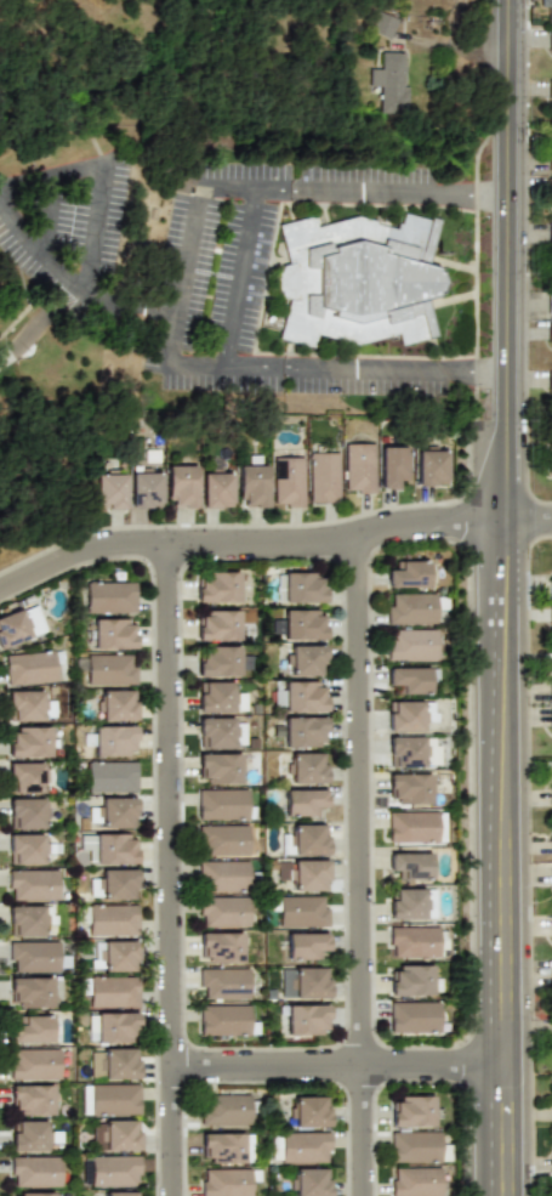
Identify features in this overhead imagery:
building: (545, 4)
road: (454, 19)
building: (380, 23)
building: (550, 40)
road: (459, 41)
building: (389, 79)
building: (550, 91)
building: (550, 159)
road: (51, 172)
road: (245, 181)
building: (548, 183)
road: (364, 186)
road: (453, 189)
road: (490, 193)
road: (51, 216)
road: (96, 226)
building: (550, 233)
road: (513, 263)
road: (181, 270)
road: (241, 276)
building: (357, 279)
road: (70, 282)
building: (548, 305)
building: (548, 330)
road: (220, 369)
road: (360, 370)
road: (478, 373)
building: (548, 380)
building: (548, 457)
building: (358, 466)
building: (392, 466)
building: (429, 466)
building: (321, 477)
building: (252, 481)
building: (286, 481)
building: (180, 486)
building: (215, 488)
building: (144, 489)
building: (108, 491)
road: (533, 526)
road: (252, 542)
building: (409, 573)
building: (550, 582)
building: (216, 586)
building: (301, 586)
building: (109, 596)
building: (412, 606)
building: (550, 614)
building: (19, 620)
building: (297, 624)
building: (221, 625)
building: (110, 633)
building: (410, 644)
building: (305, 659)
building: (220, 661)
building: (32, 667)
building: (109, 669)
building: (411, 679)
building: (551, 686)
building: (217, 696)
building: (298, 696)
building: (25, 704)
building: (116, 704)
building: (405, 715)
building: (551, 722)
building: (303, 731)
building: (220, 732)
building: (112, 739)
building: (27, 741)
building: (412, 752)
building: (217, 767)
building: (306, 767)
building: (110, 776)
building: (25, 777)
building: (408, 787)
building: (551, 790)
building: (303, 803)
building: (222, 804)
building: (118, 811)
building: (27, 812)
building: (415, 826)
building: (222, 839)
building: (305, 839)
building: (551, 843)
building: (114, 848)
building: (25, 849)
road: (513, 861)
road: (371, 865)
building: (408, 865)
road: (181, 868)
building: (306, 874)
building: (222, 875)
building: (551, 880)
building: (113, 883)
building: (32, 884)
building: (410, 903)
building: (222, 911)
building: (301, 911)
building: (28, 919)
building: (109, 919)
building: (551, 933)
building: (416, 941)
building: (305, 946)
building: (220, 947)
building: (115, 954)
building: (35, 957)
building: (410, 980)
building: (223, 982)
building: (303, 982)
building: (28, 991)
building: (108, 991)
building: (415, 1016)
building: (305, 1019)
building: (224, 1021)
building: (110, 1026)
building: (32, 1030)
building: (116, 1062)
building: (34, 1064)
road: (347, 1065)
building: (33, 1099)
building: (109, 1099)
building: (226, 1110)
building: (309, 1111)
building: (411, 1111)
building: (115, 1135)
building: (28, 1137)
building: (223, 1146)
building: (301, 1147)
building: (416, 1147)
building: (34, 1171)
building: (114, 1171)
building: (227, 1181)
building: (311, 1181)
building: (415, 1181)
building: (36, 1194)
building: (121, 1194)

